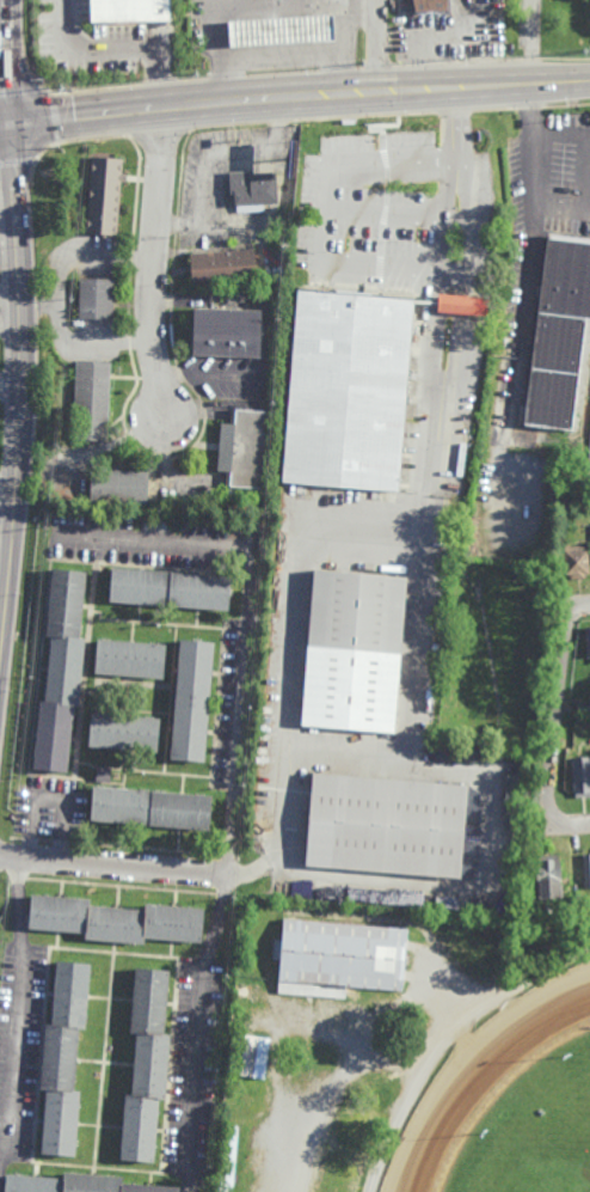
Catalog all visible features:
building: (432, 7)
road: (260, 10)
building: (133, 11)
road: (346, 14)
building: (282, 31)
road: (377, 47)
road: (117, 51)
power tower: (589, 53)
road: (282, 54)
power tower: (491, 59)
power tower: (461, 60)
road: (8, 63)
power tower: (362, 65)
power tower: (190, 77)
road: (559, 82)
power tower: (68, 86)
road: (453, 88)
road: (193, 104)
road: (5, 128)
traffic signals: (11, 128)
road: (560, 134)
road: (214, 155)
building: (253, 190)
building: (103, 196)
road: (563, 209)
road: (322, 210)
road: (535, 214)
building: (223, 268)
road: (153, 276)
road: (436, 281)
road: (12, 295)
road: (60, 297)
building: (96, 298)
road: (42, 302)
building: (461, 305)
road: (13, 326)
building: (559, 332)
building: (227, 334)
road: (12, 384)
building: (349, 391)
building: (91, 401)
road: (24, 412)
building: (242, 450)
building: (589, 469)
building: (124, 488)
road: (11, 501)
building: (574, 560)
building: (170, 586)
road: (297, 591)
road: (586, 603)
road: (245, 613)
building: (586, 640)
building: (354, 653)
building: (129, 656)
building: (60, 668)
building: (192, 699)
building: (583, 705)
road: (555, 719)
building: (123, 731)
road: (408, 748)
building: (103, 774)
building: (580, 775)
road: (49, 800)
building: (149, 807)
road: (582, 820)
building: (385, 826)
road: (116, 861)
building: (586, 870)
building: (547, 876)
road: (468, 892)
building: (385, 895)
road: (17, 899)
building: (115, 919)
building: (588, 930)
building: (339, 959)
road: (198, 1021)
road: (447, 1043)
road: (14, 1052)
road: (351, 1053)
building: (248, 1056)
building: (61, 1060)
building: (146, 1066)
road: (383, 1070)
track: (488, 1076)
building: (228, 1159)
building: (73, 1185)

